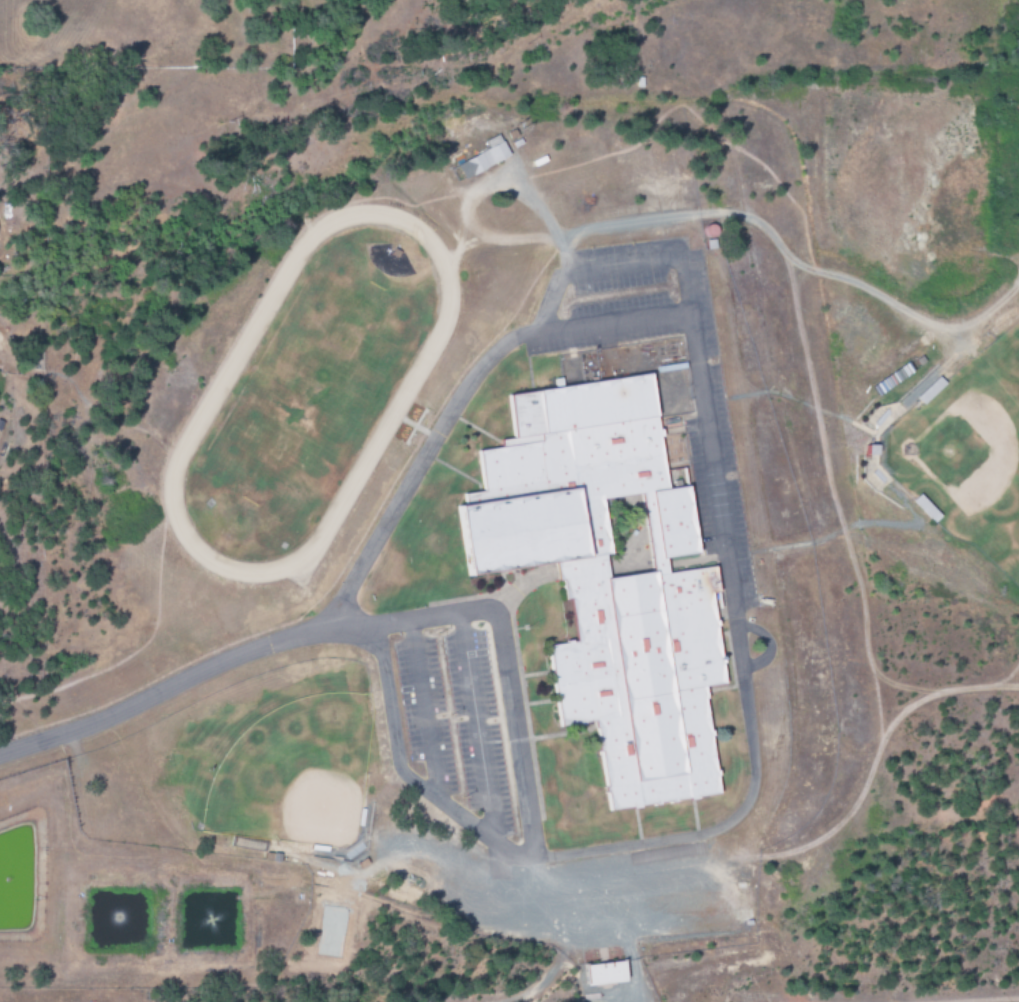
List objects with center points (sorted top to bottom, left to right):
building: (485, 157)
building: (927, 387)
park: (311, 394)
road: (459, 404)
park: (968, 455)
parking lot: (715, 487)
building: (610, 579)
road: (359, 628)
road: (745, 706)
road: (424, 711)
parking lot: (454, 718)
road: (474, 728)
park: (282, 762)
building: (606, 974)

